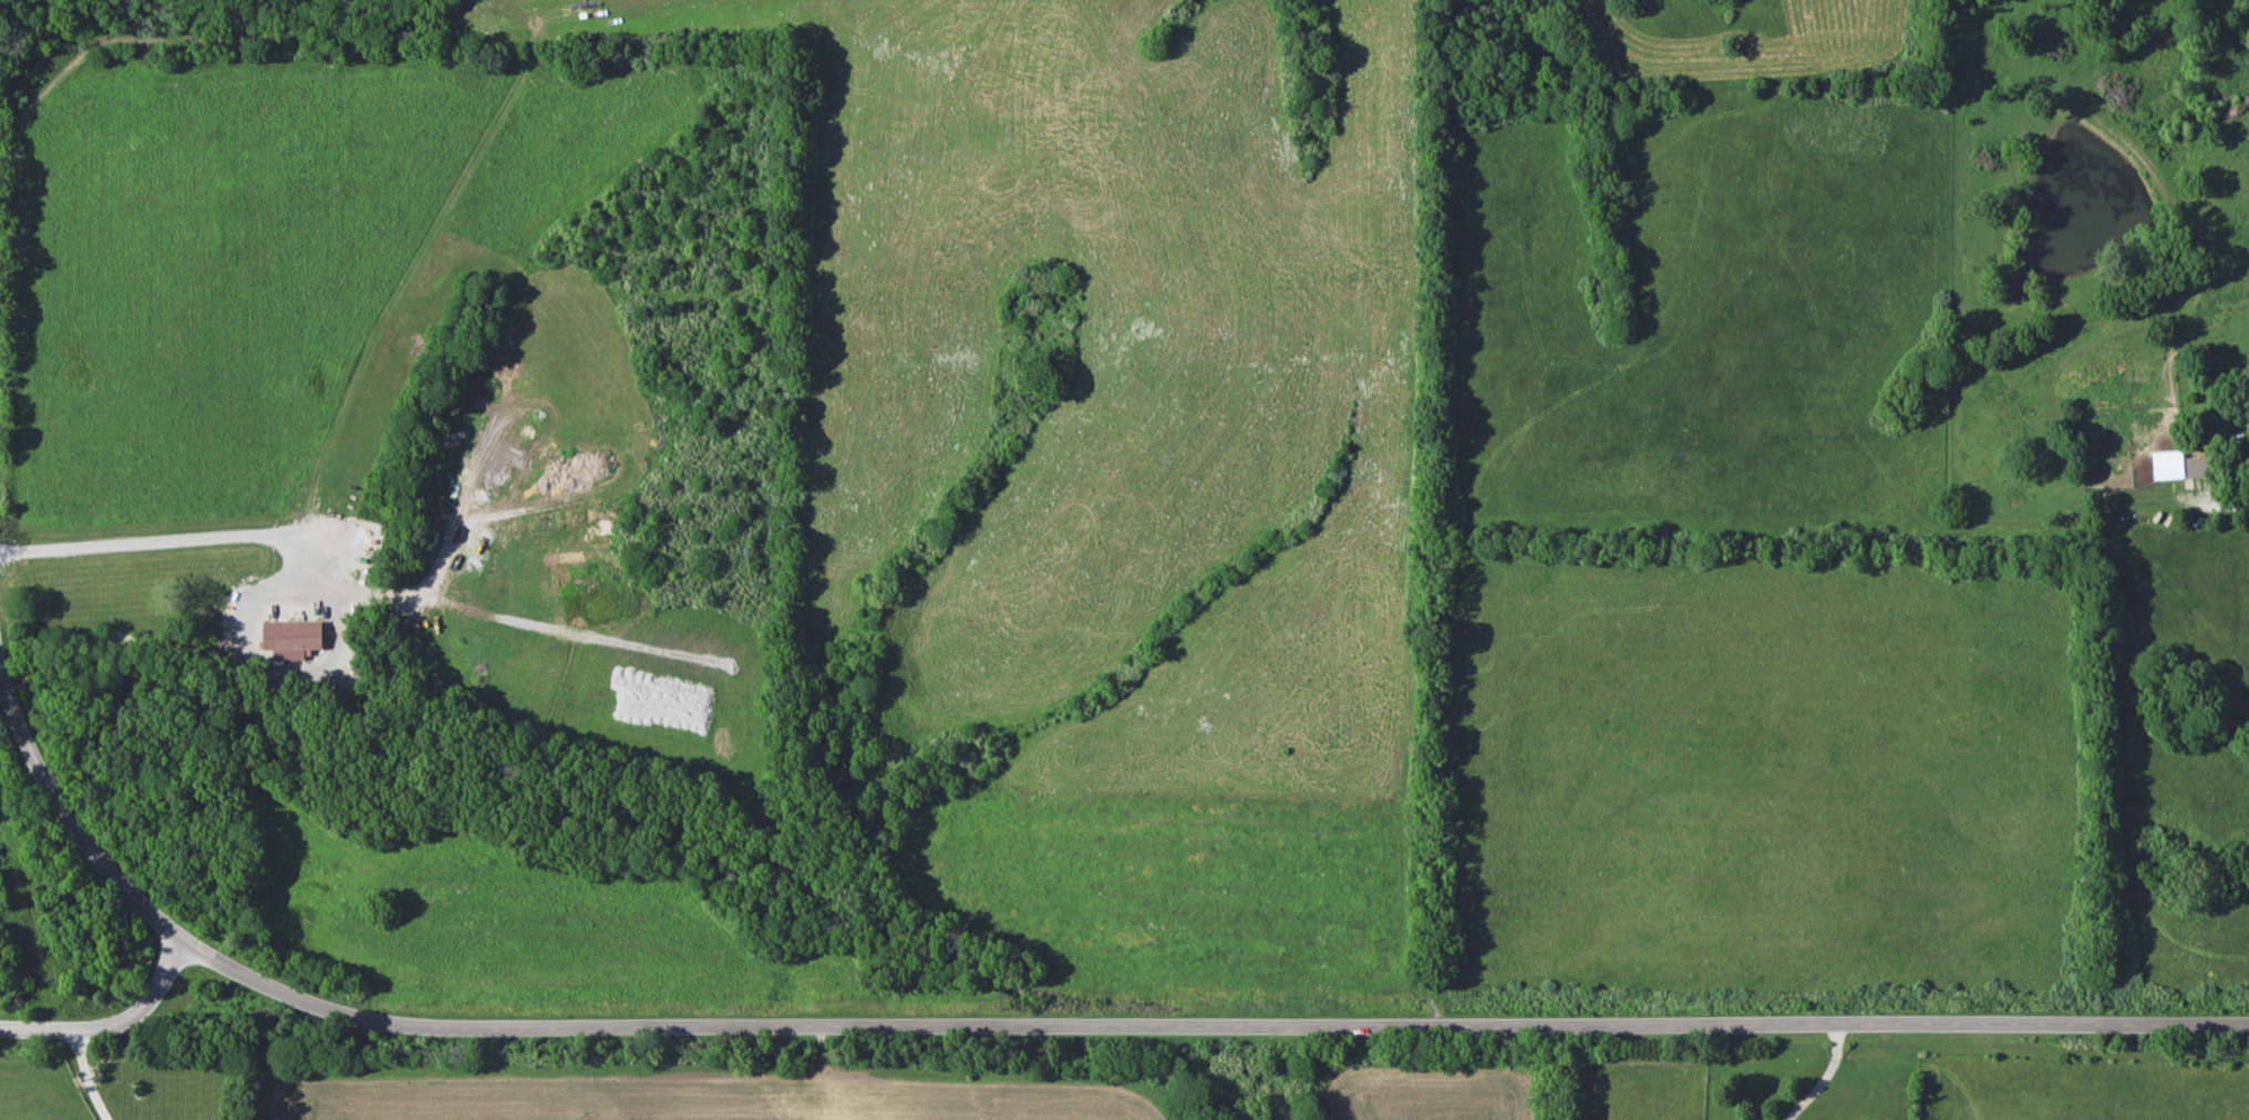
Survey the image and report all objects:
road: (19, 133)
road: (11, 253)
building: (2248, 429)
building: (2175, 465)
road: (2224, 507)
park: (715, 509)
road: (227, 536)
building: (290, 637)
road: (266, 665)
road: (63, 833)
road: (1208, 1026)
road: (113, 1029)
road: (1803, 1075)
road: (86, 1076)
crop: (1427, 1092)

